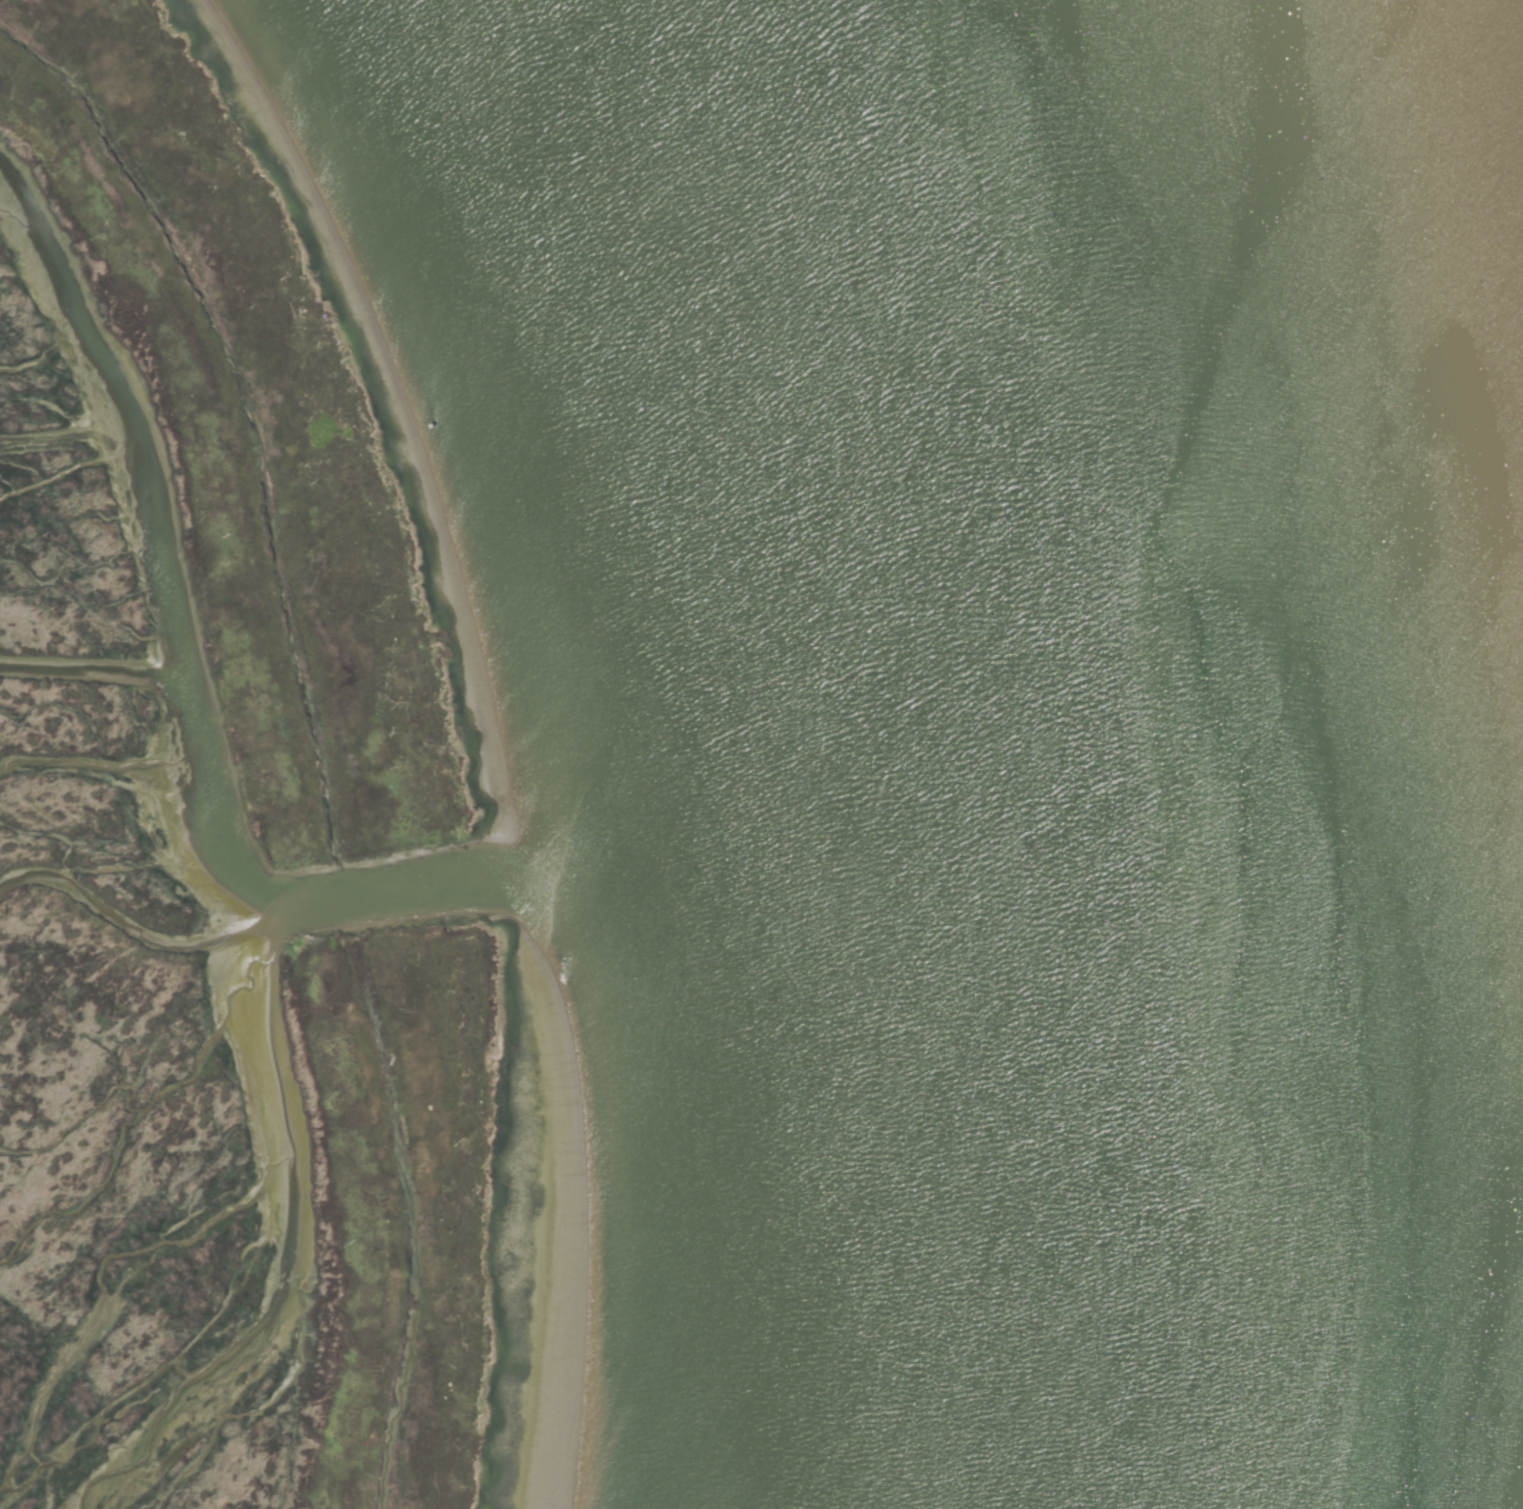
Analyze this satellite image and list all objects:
river: (1277, 695)

